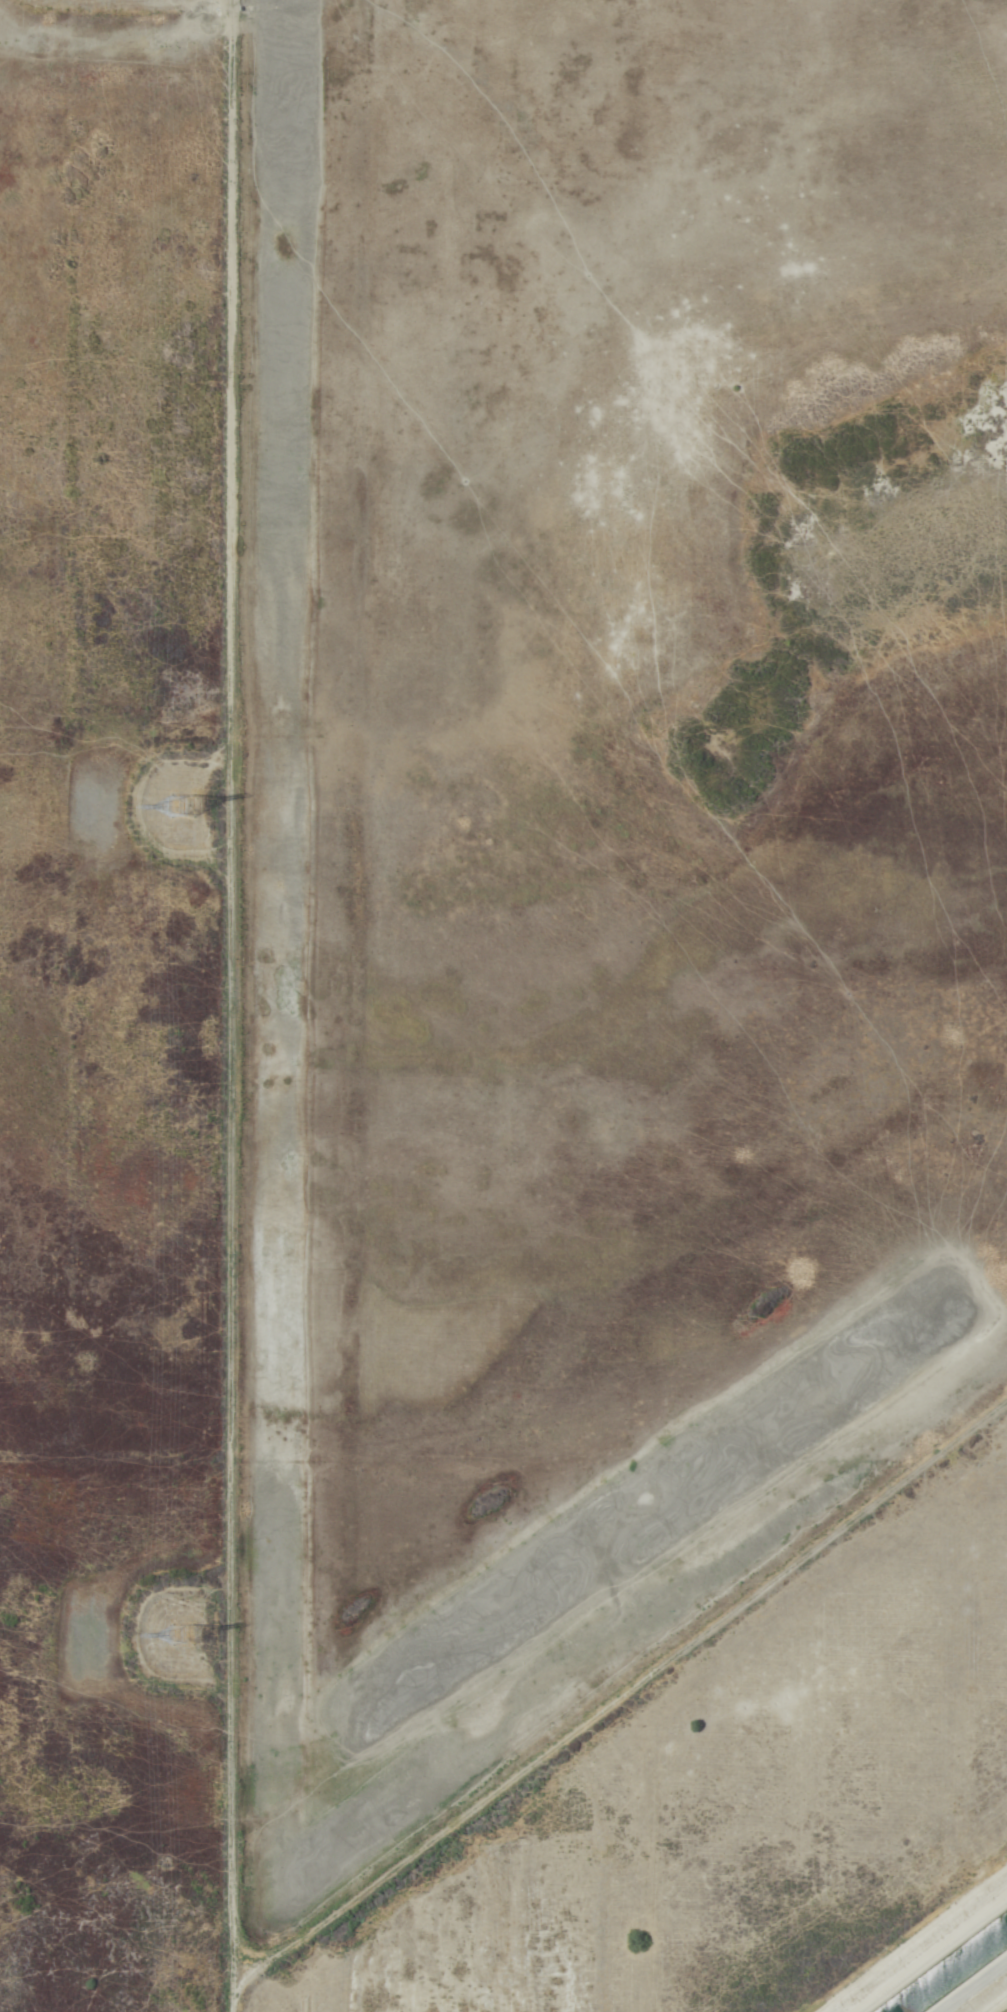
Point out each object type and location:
power tower: (177, 805)
crop: (501, 1001)
power tower: (177, 1634)

